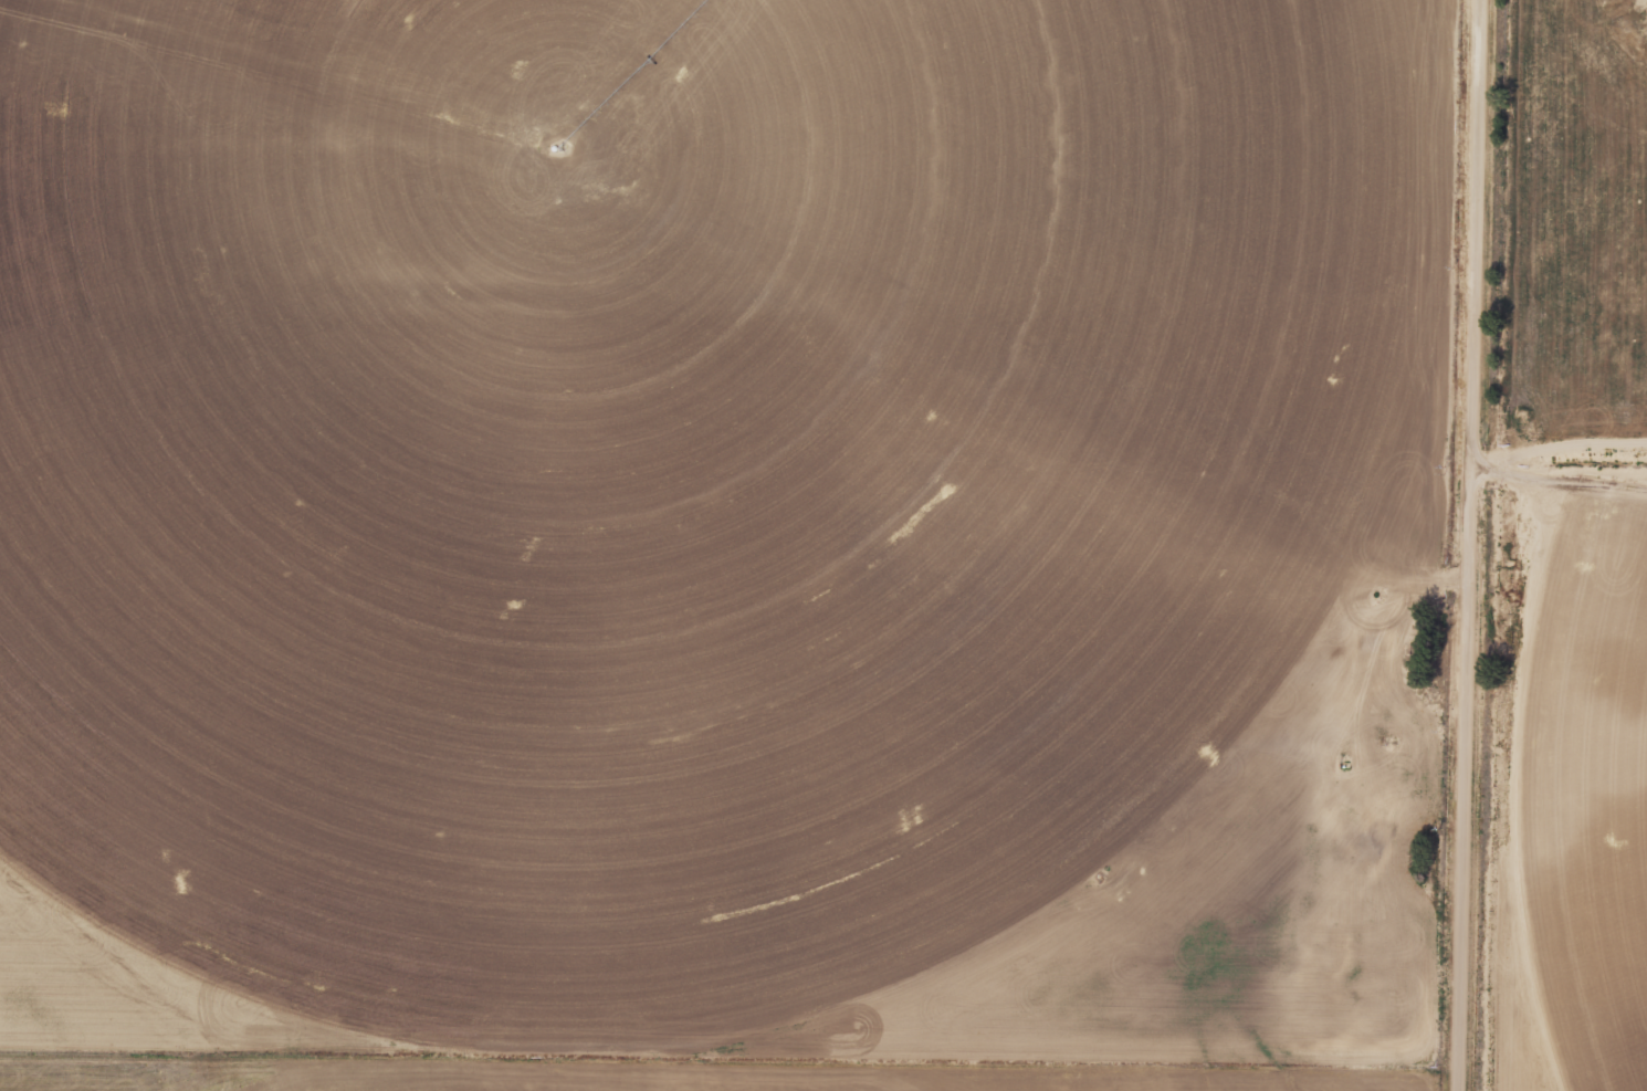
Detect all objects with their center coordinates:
road: (1469, 545)

